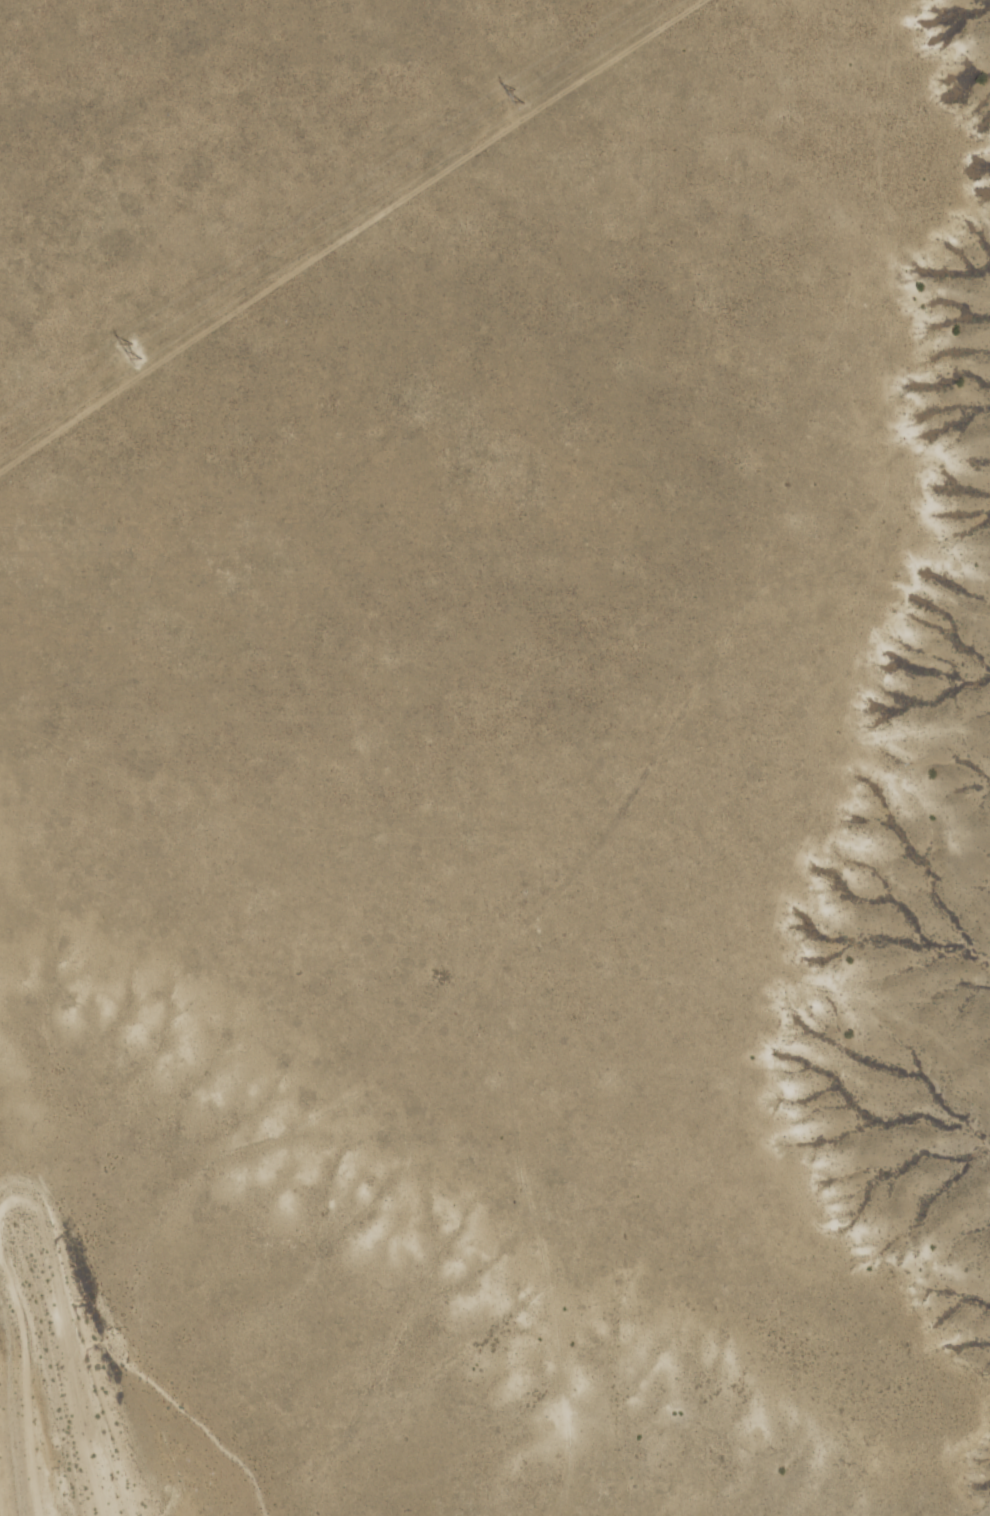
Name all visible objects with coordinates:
power tower: (522, 93)
power tower: (133, 352)

